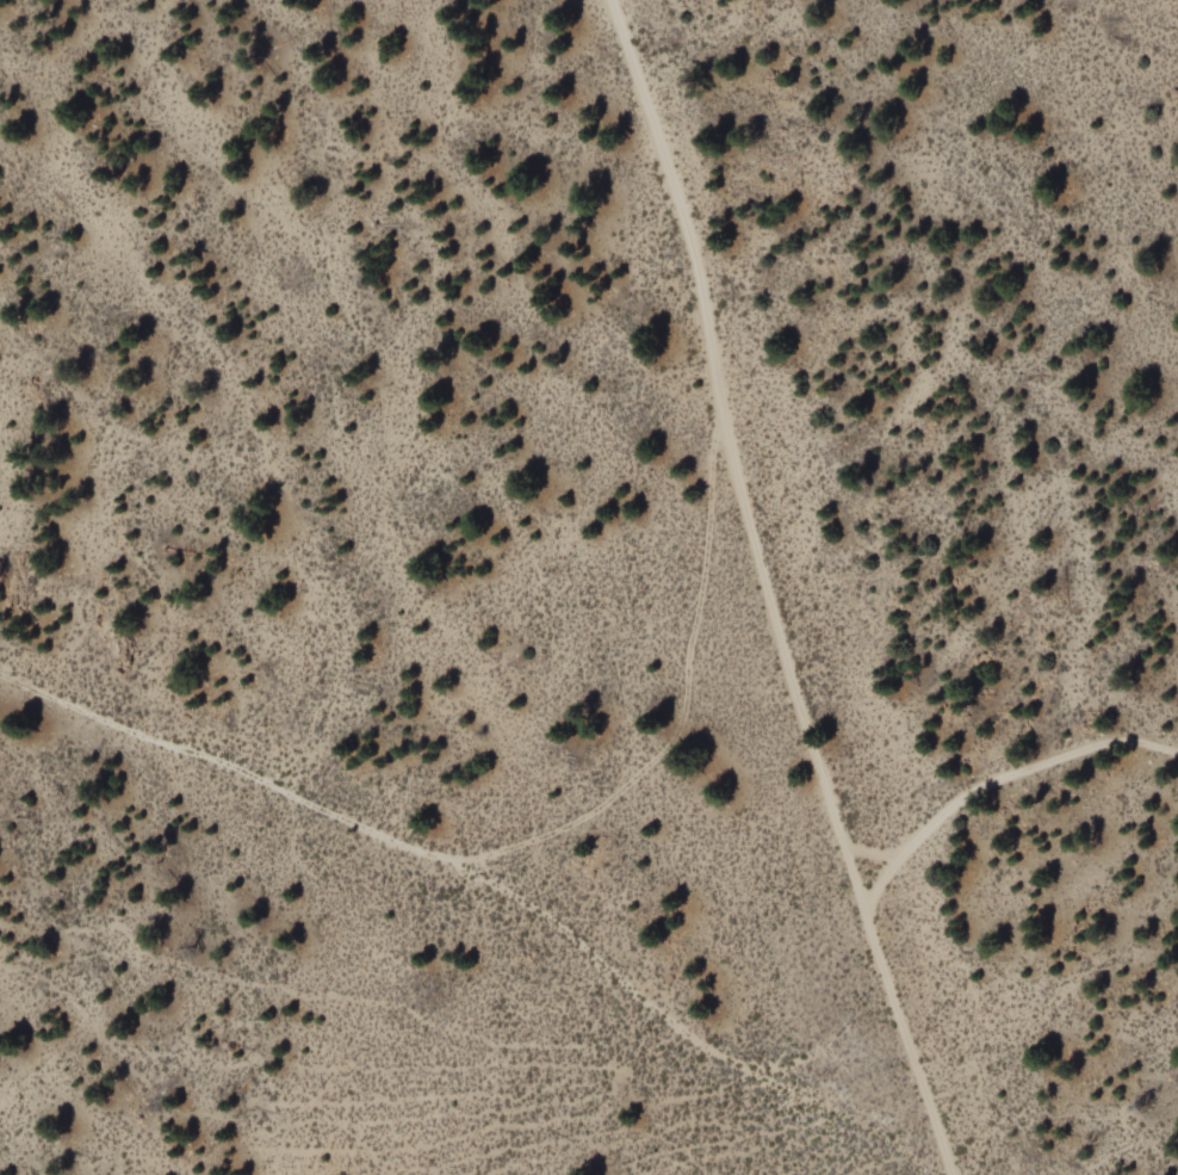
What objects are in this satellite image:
road: (730, 458)
road: (680, 701)
road: (994, 787)
road: (872, 853)
road: (489, 885)
road: (905, 1046)

